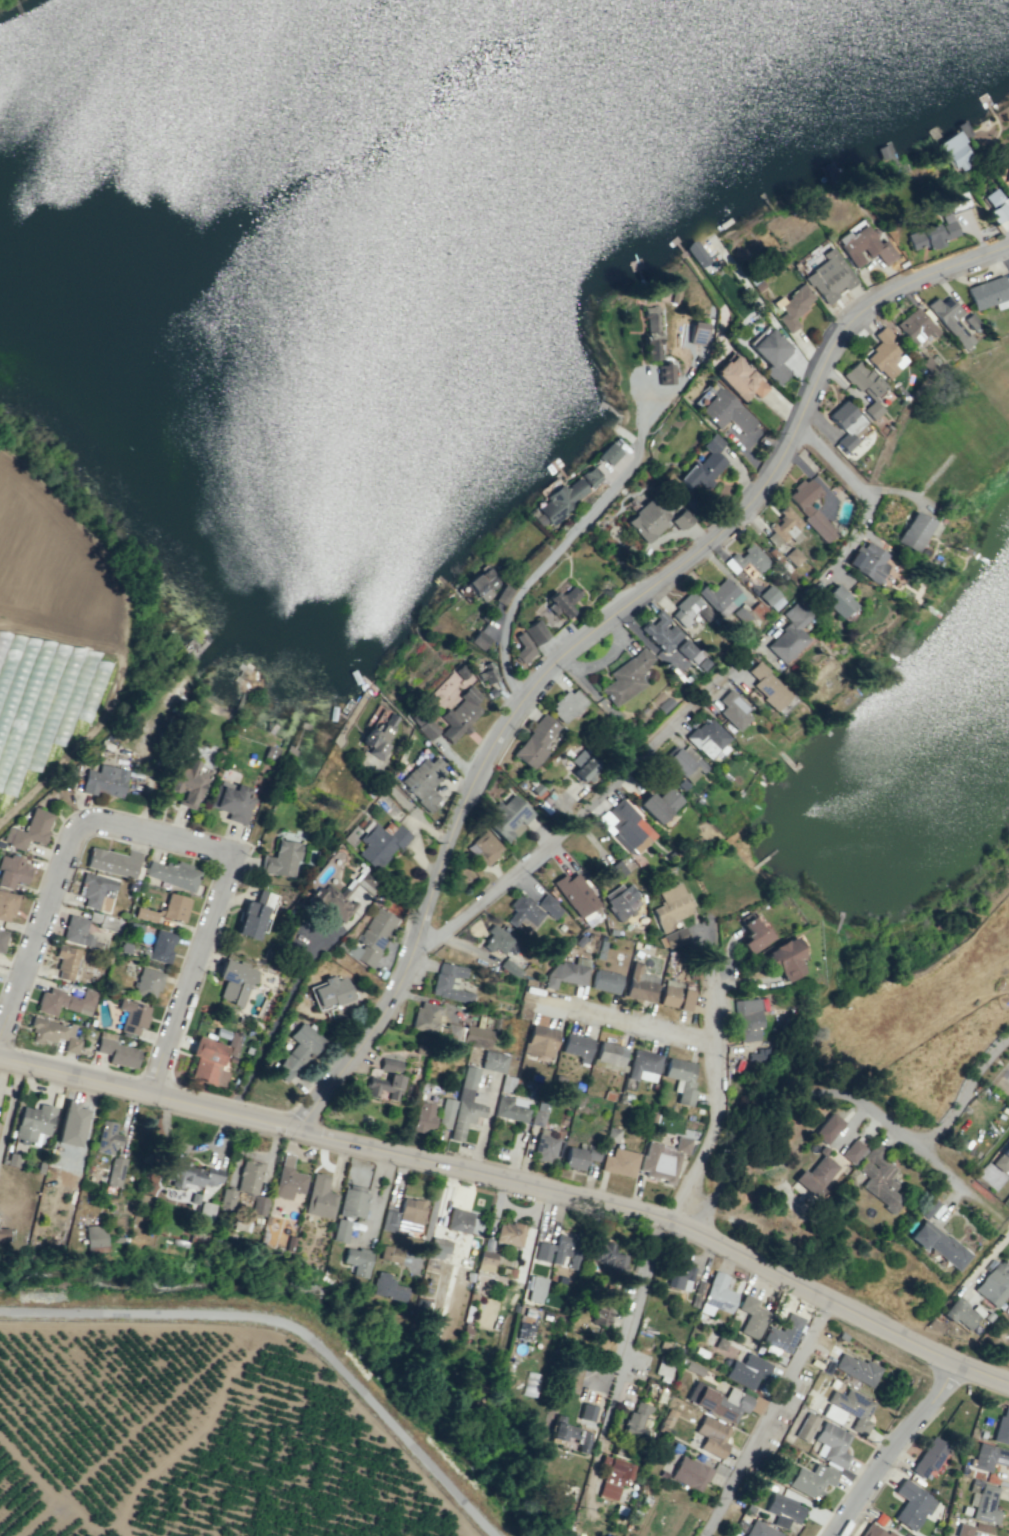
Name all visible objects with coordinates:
building: (964, 129)
building: (955, 151)
building: (830, 171)
building: (1006, 172)
building: (1008, 190)
building: (1008, 193)
building: (997, 206)
building: (940, 225)
building: (865, 246)
building: (695, 253)
building: (829, 276)
building: (756, 283)
building: (988, 291)
building: (675, 297)
building: (793, 306)
building: (948, 318)
building: (971, 320)
building: (915, 326)
building: (651, 332)
building: (697, 332)
building: (884, 353)
building: (771, 354)
building: (927, 364)
building: (665, 374)
building: (740, 378)
building: (864, 386)
building: (726, 411)
building: (847, 425)
park: (956, 448)
building: (608, 454)
building: (705, 464)
road: (864, 496)
building: (565, 497)
building: (809, 507)
building: (680, 518)
building: (647, 519)
building: (784, 527)
building: (915, 531)
road: (564, 541)
building: (793, 556)
building: (867, 561)
building: (746, 562)
building: (483, 583)
building: (503, 594)
crop: (60, 597)
building: (721, 597)
building: (770, 597)
building: (836, 600)
building: (559, 603)
building: (689, 610)
road: (592, 628)
building: (535, 632)
building: (660, 633)
building: (790, 633)
building: (478, 640)
building: (523, 647)
building: (686, 649)
building: (459, 671)
building: (487, 673)
building: (625, 677)
park: (1003, 678)
building: (768, 685)
building: (490, 692)
building: (567, 705)
building: (734, 710)
building: (459, 715)
building: (426, 729)
building: (379, 737)
building: (708, 739)
building: (534, 742)
building: (269, 752)
building: (583, 764)
building: (104, 781)
building: (188, 783)
building: (424, 783)
building: (231, 801)
building: (659, 804)
road: (579, 815)
building: (510, 818)
building: (626, 826)
building: (29, 830)
road: (171, 838)
building: (380, 843)
building: (484, 848)
building: (282, 858)
road: (207, 861)
building: (114, 862)
building: (12, 870)
building: (615, 870)
building: (173, 874)
road: (237, 879)
building: (130, 886)
building: (96, 891)
building: (341, 893)
building: (575, 893)
building: (621, 901)
building: (7, 905)
building: (671, 905)
building: (549, 906)
building: (166, 909)
building: (523, 911)
building: (255, 915)
building: (105, 921)
building: (751, 932)
building: (78, 933)
building: (374, 935)
building: (675, 937)
building: (2, 938)
building: (496, 940)
building: (161, 946)
building: (124, 947)
building: (352, 951)
park: (911, 951)
building: (143, 954)
building: (785, 958)
building: (65, 960)
building: (510, 968)
building: (566, 972)
building: (234, 981)
building: (605, 981)
building: (147, 983)
building: (449, 983)
building: (639, 983)
building: (330, 991)
building: (674, 995)
building: (66, 1001)
building: (132, 1016)
building: (426, 1017)
building: (746, 1019)
road: (626, 1021)
road: (273, 1022)
building: (222, 1033)
building: (54, 1034)
building: (469, 1035)
building: (540, 1042)
building: (577, 1046)
building: (116, 1050)
building: (248, 1050)
building: (297, 1050)
building: (610, 1053)
building: (759, 1056)
building: (232, 1059)
building: (208, 1060)
building: (493, 1061)
building: (643, 1065)
building: (681, 1078)
building: (386, 1080)
building: (506, 1084)
road: (966, 1091)
road: (835, 1093)
road: (713, 1097)
building: (465, 1104)
building: (511, 1108)
building: (446, 1113)
building: (424, 1117)
building: (34, 1122)
building: (71, 1124)
building: (827, 1128)
building: (612, 1134)
building: (107, 1137)
building: (545, 1146)
building: (852, 1151)
building: (579, 1156)
building: (1002, 1159)
building: (13, 1160)
building: (662, 1160)
building: (619, 1162)
building: (115, 1171)
building: (192, 1175)
building: (249, 1177)
building: (813, 1177)
building: (879, 1178)
building: (288, 1179)
road: (518, 1182)
building: (319, 1197)
building: (226, 1198)
building: (352, 1201)
building: (259, 1205)
building: (927, 1208)
building: (205, 1212)
building: (404, 1216)
building: (458, 1220)
building: (341, 1230)
building: (509, 1233)
building: (4, 1234)
building: (938, 1244)
building: (437, 1249)
building: (560, 1251)
building: (390, 1253)
building: (606, 1257)
building: (485, 1260)
building: (357, 1261)
building: (679, 1277)
building: (994, 1284)
building: (387, 1288)
building: (535, 1289)
building: (717, 1295)
road: (633, 1299)
building: (959, 1313)
building: (600, 1314)
building: (751, 1316)
road: (290, 1326)
building: (524, 1327)
building: (783, 1333)
building: (693, 1368)
building: (856, 1368)
building: (662, 1370)
building: (747, 1371)
building: (530, 1384)
building: (723, 1402)
building: (849, 1409)
building: (586, 1412)
road: (756, 1412)
building: (635, 1419)
building: (797, 1419)
building: (806, 1427)
building: (1002, 1427)
building: (568, 1433)
building: (712, 1436)
crop: (194, 1438)
building: (831, 1444)
road: (896, 1448)
building: (929, 1456)
building: (989, 1457)
building: (690, 1473)
building: (613, 1476)
building: (811, 1480)
building: (982, 1501)
building: (912, 1504)
building: (783, 1510)
building: (759, 1529)
building: (963, 1529)
building: (874, 1531)

